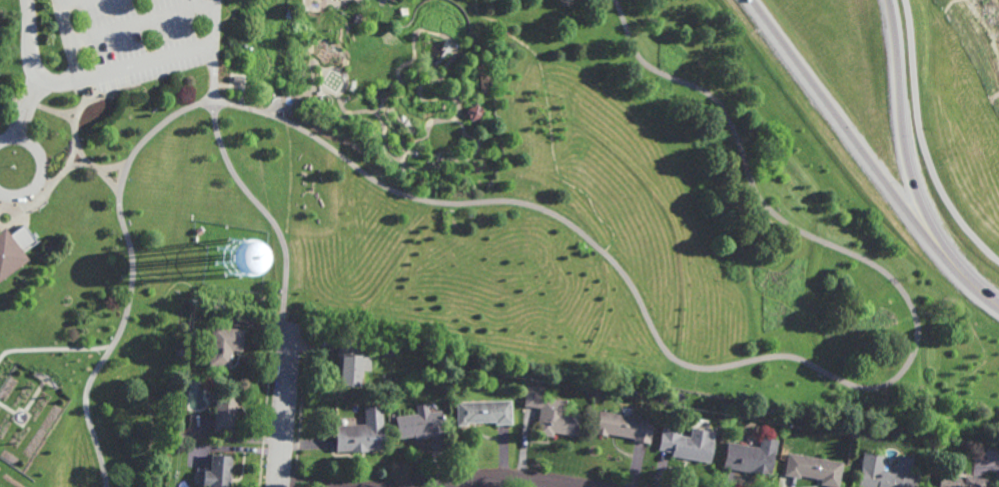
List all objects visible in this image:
road: (337, 0)
road: (360, 3)
road: (385, 3)
road: (326, 5)
road: (142, 23)
road: (214, 23)
road: (68, 35)
parking lot: (136, 39)
road: (388, 39)
road: (331, 42)
road: (213, 54)
building: (494, 54)
road: (28, 63)
road: (146, 63)
road: (444, 67)
road: (323, 69)
road: (331, 75)
road: (334, 77)
building: (238, 78)
road: (328, 78)
road: (322, 79)
road: (338, 79)
road: (332, 81)
road: (326, 82)
road: (336, 82)
road: (330, 84)
road: (333, 87)
road: (13, 96)
road: (293, 98)
road: (29, 108)
road: (888, 110)
road: (69, 112)
building: (474, 112)
road: (817, 113)
road: (15, 118)
road: (69, 119)
road: (550, 124)
road: (152, 131)
road: (922, 141)
road: (73, 155)
road: (403, 163)
road: (77, 164)
road: (41, 167)
road: (98, 167)
road: (109, 180)
road: (290, 182)
road: (251, 196)
park: (445, 206)
road: (26, 208)
building: (14, 248)
road: (994, 248)
water tower: (226, 262)
road: (947, 262)
road: (112, 342)
building: (223, 345)
road: (53, 349)
building: (389, 350)
road: (772, 356)
building: (351, 361)
road: (144, 381)
road: (285, 406)
building: (224, 410)
building: (483, 412)
building: (550, 414)
building: (419, 423)
building: (624, 426)
building: (171, 434)
building: (358, 437)
building: (689, 444)
building: (751, 456)
building: (813, 468)
building: (217, 471)
building: (882, 473)
road: (496, 477)
building: (959, 480)
road: (286, 485)

